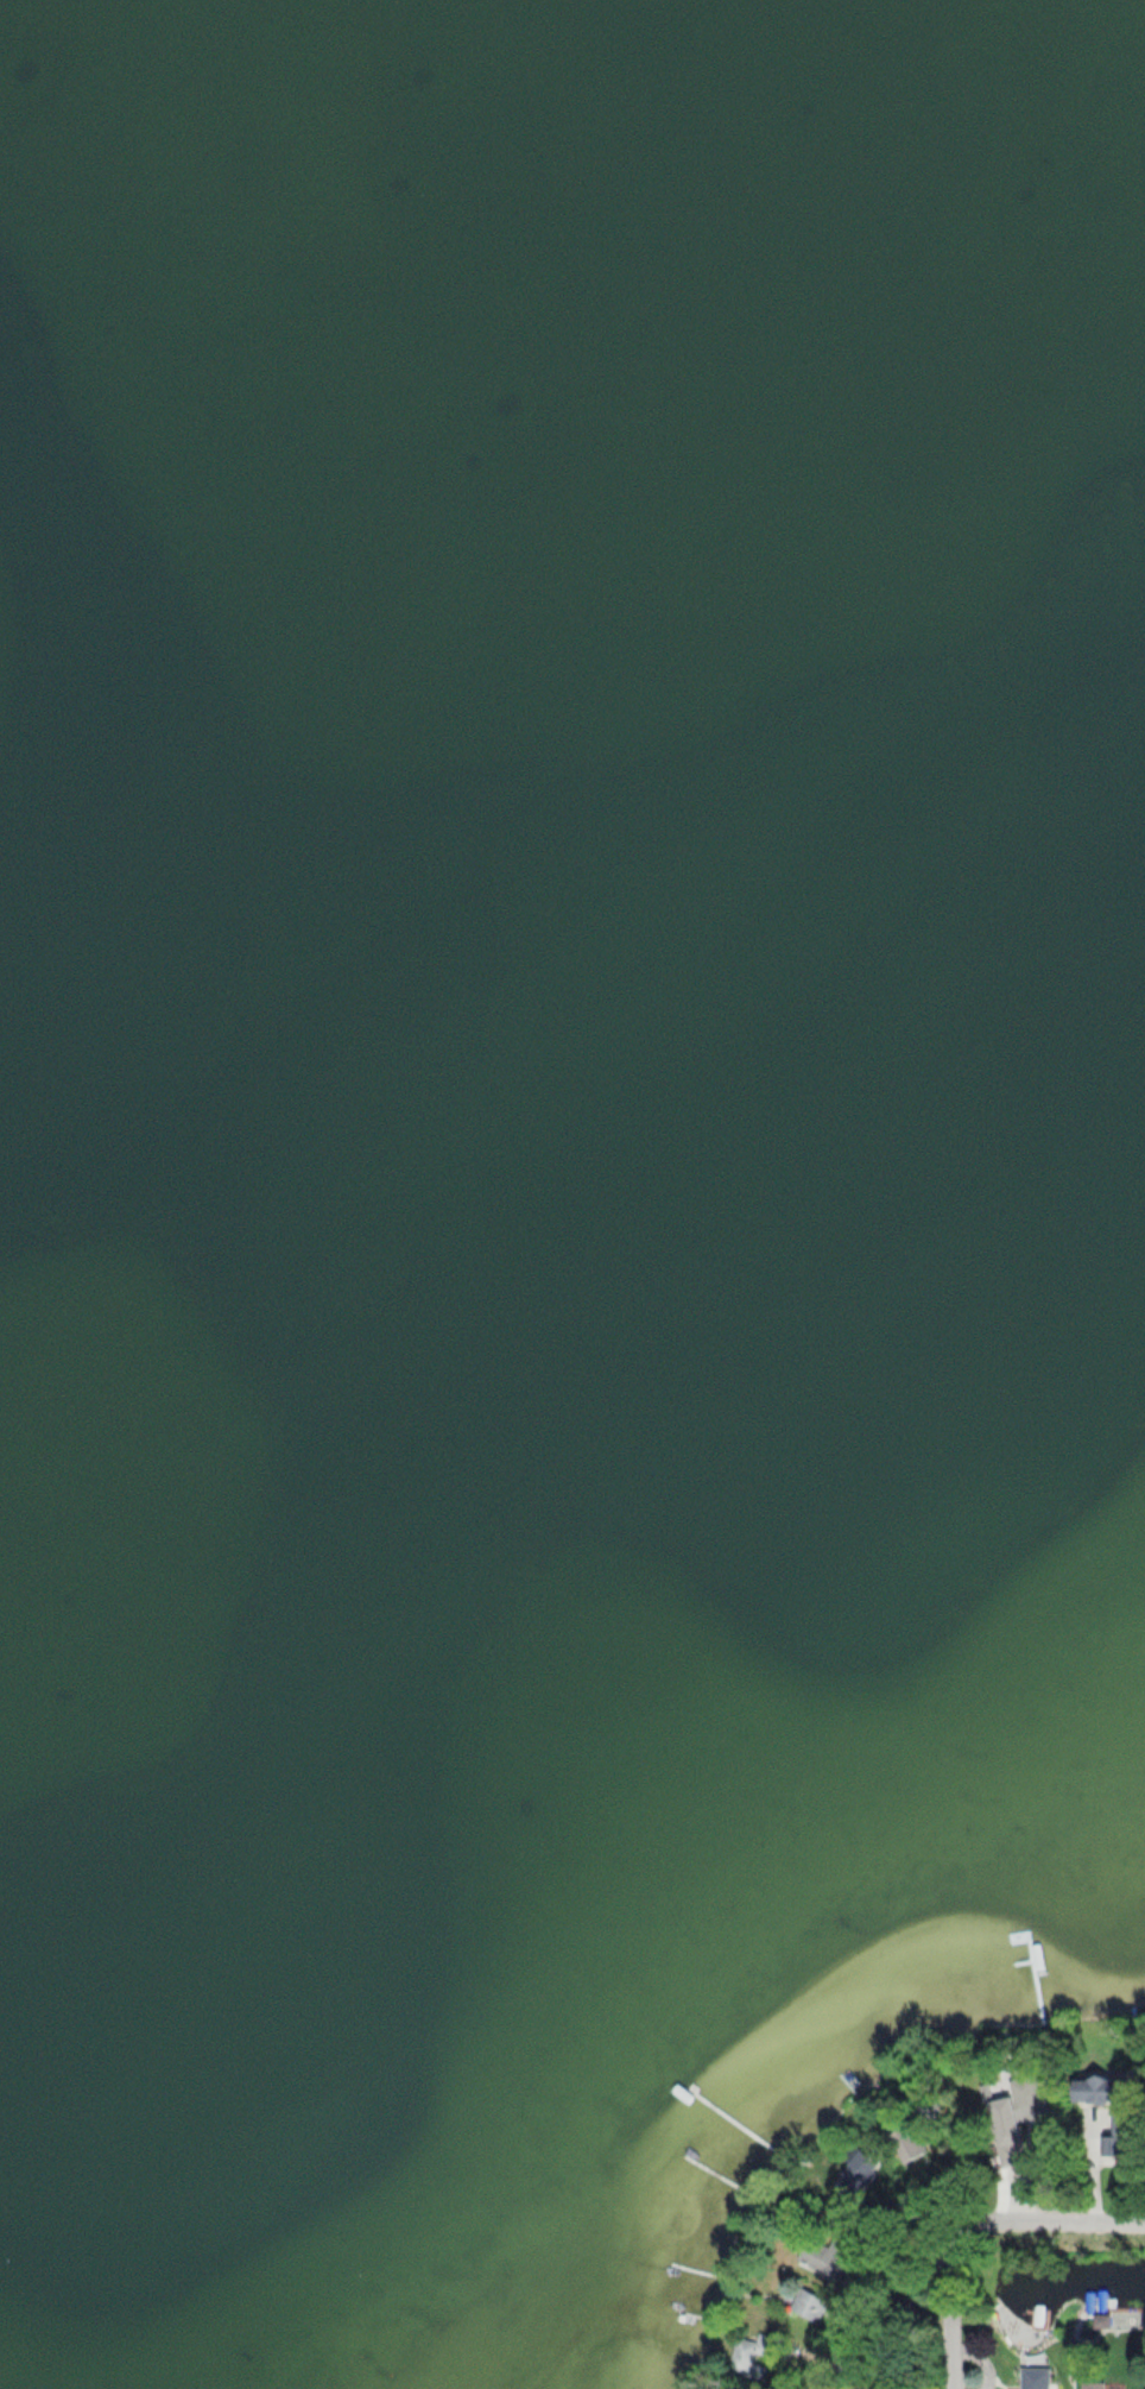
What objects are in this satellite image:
building: (1023, 2103)
park: (961, 2120)
building: (1102, 2126)
building: (906, 2144)
building: (855, 2177)
building: (1016, 2179)
road: (1050, 2221)
building: (823, 2256)
building: (806, 2306)
road: (949, 2312)
building: (753, 2357)
building: (1035, 2378)
building: (1093, 2385)

